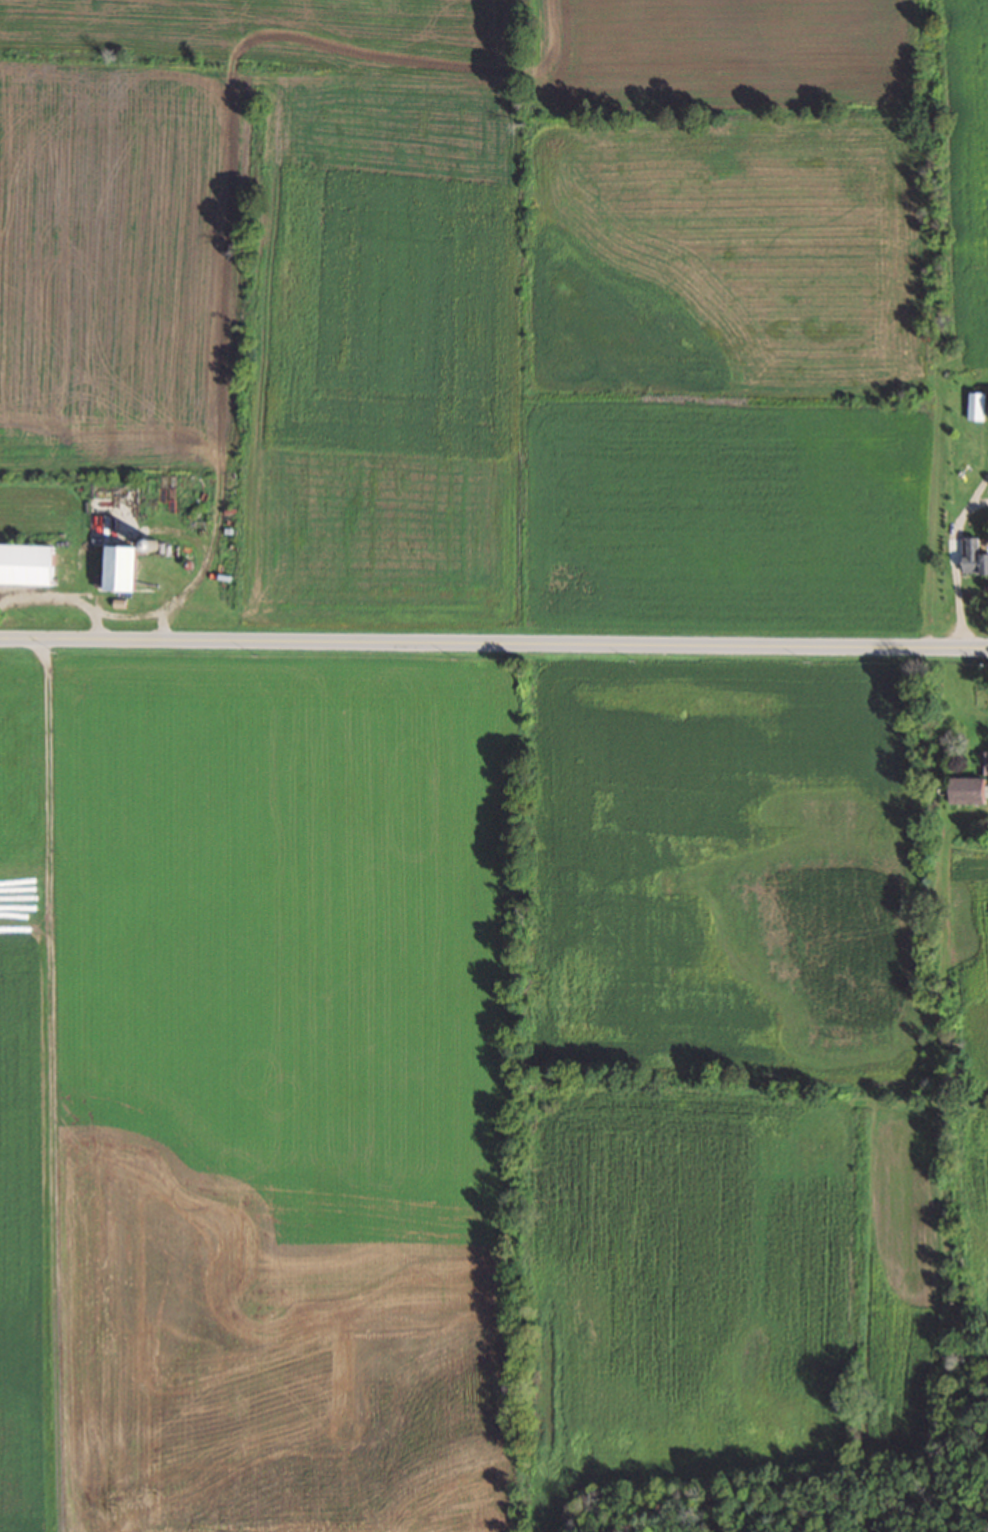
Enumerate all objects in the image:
building: (977, 404)
building: (975, 554)
building: (27, 562)
building: (125, 565)
road: (494, 643)
building: (975, 782)

